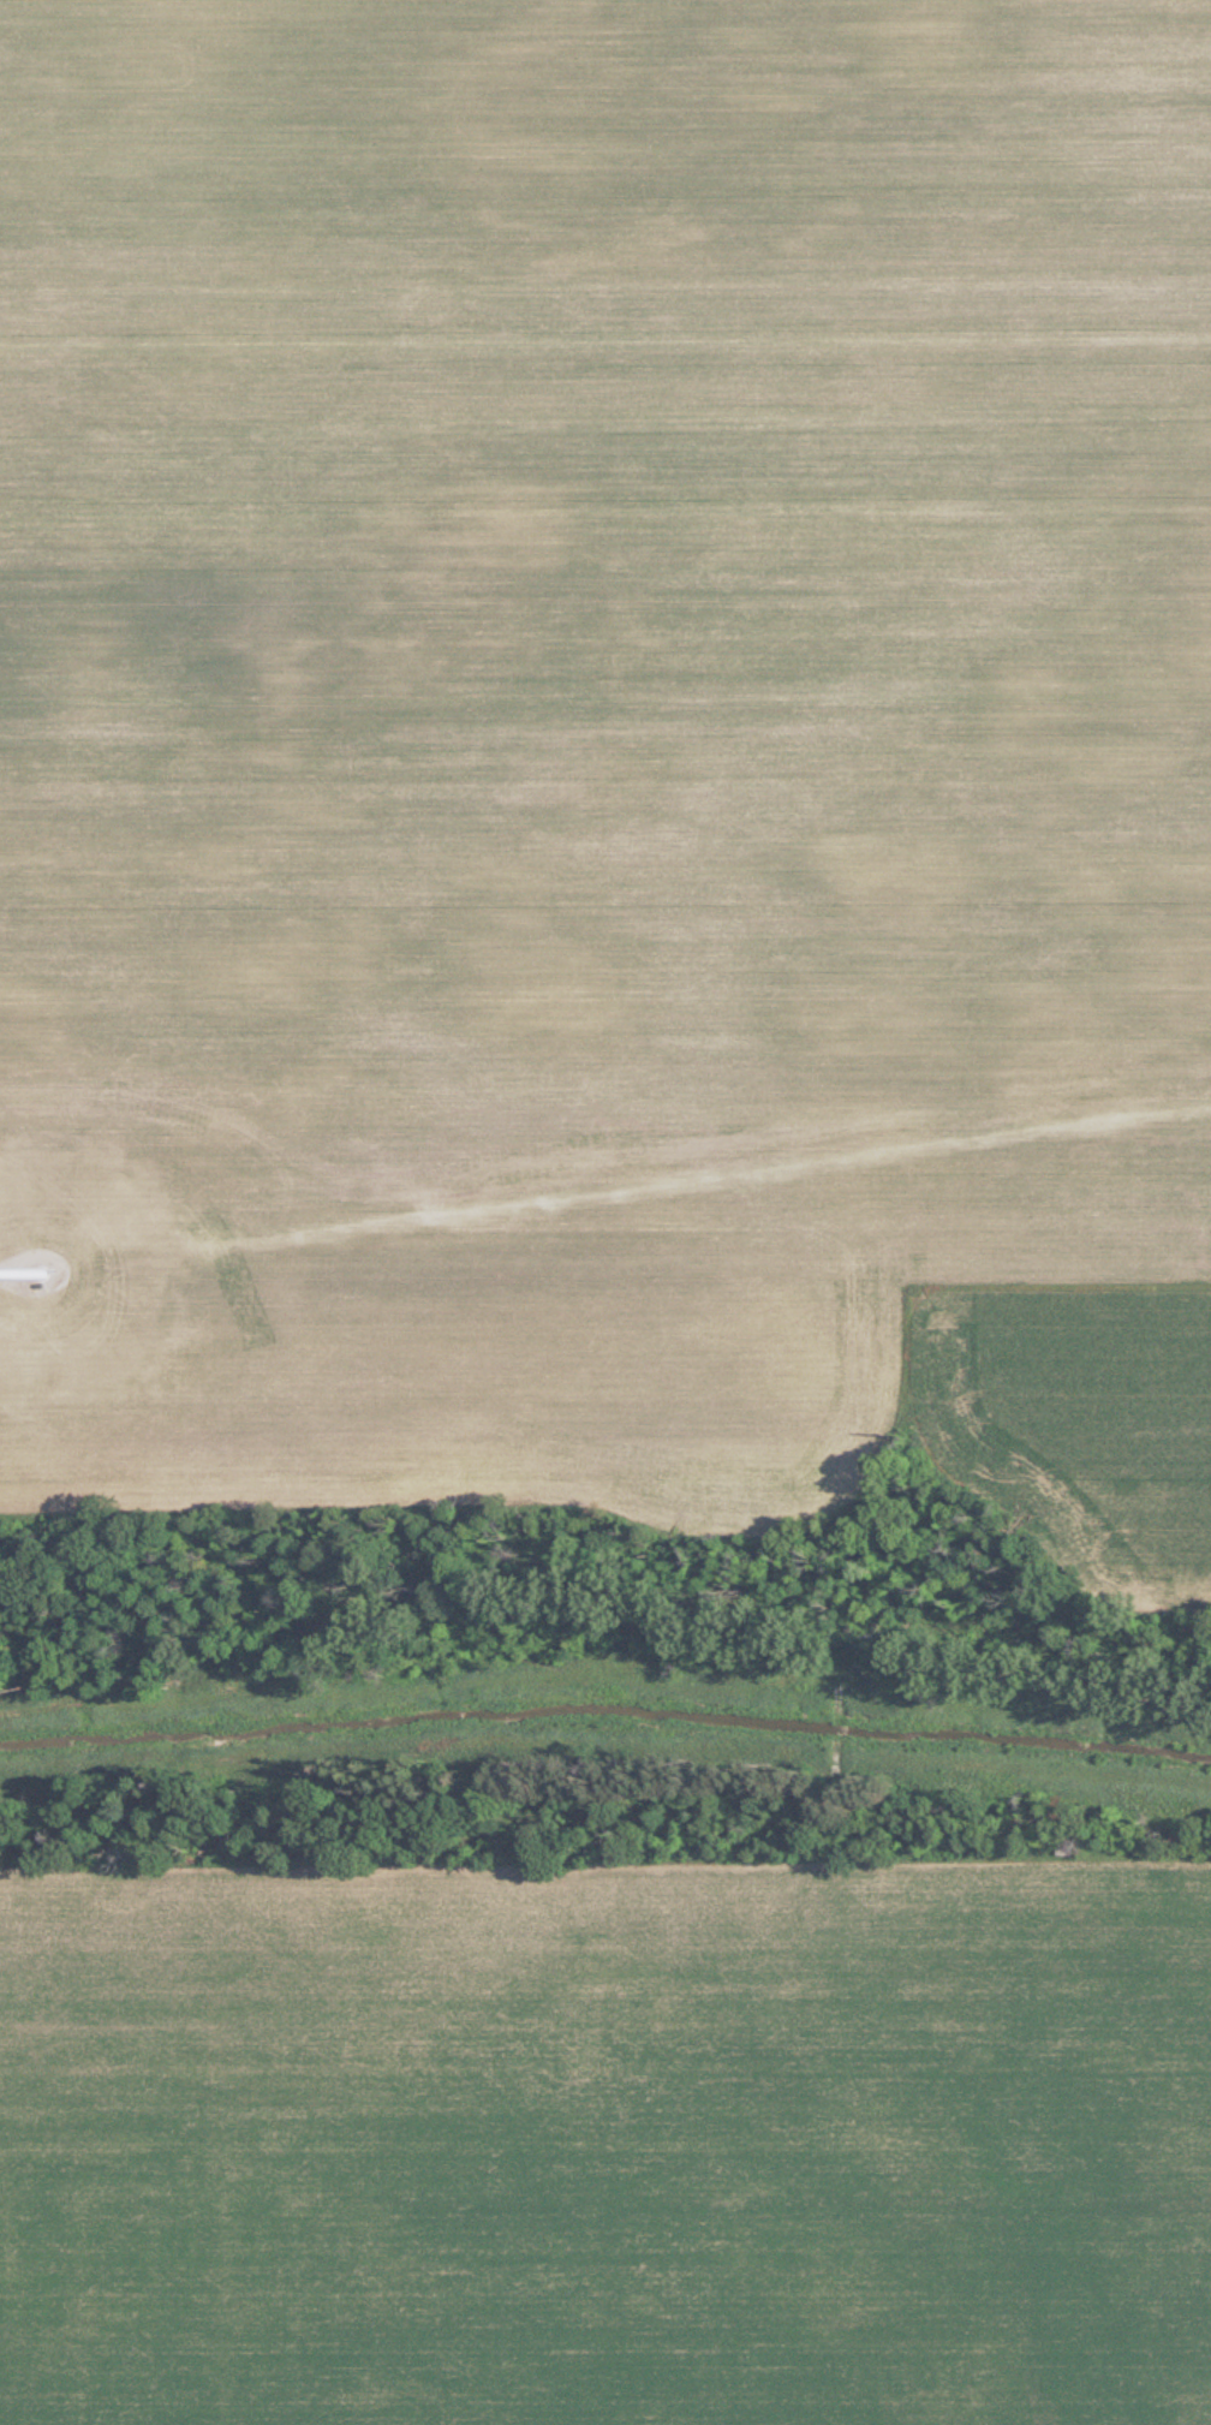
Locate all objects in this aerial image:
wind turbine: (44, 1276)

